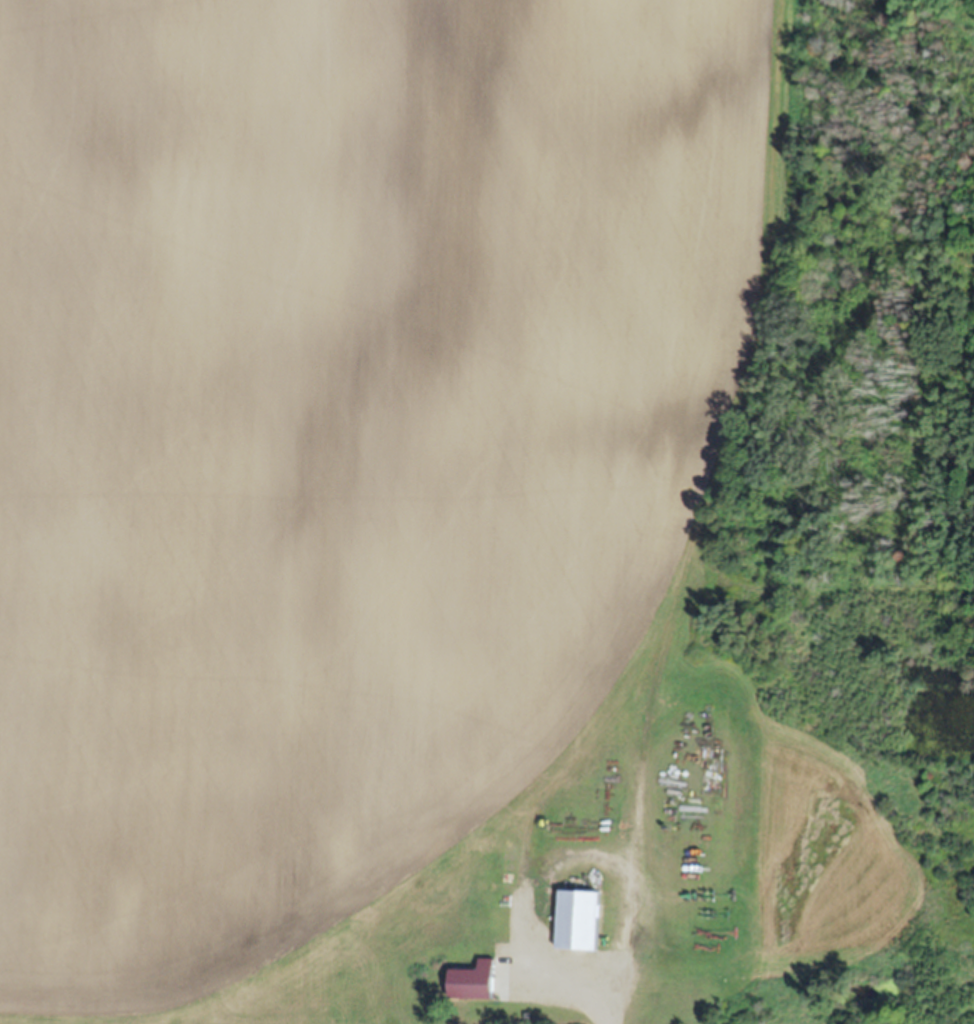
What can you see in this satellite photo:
building: (578, 921)
building: (474, 982)

